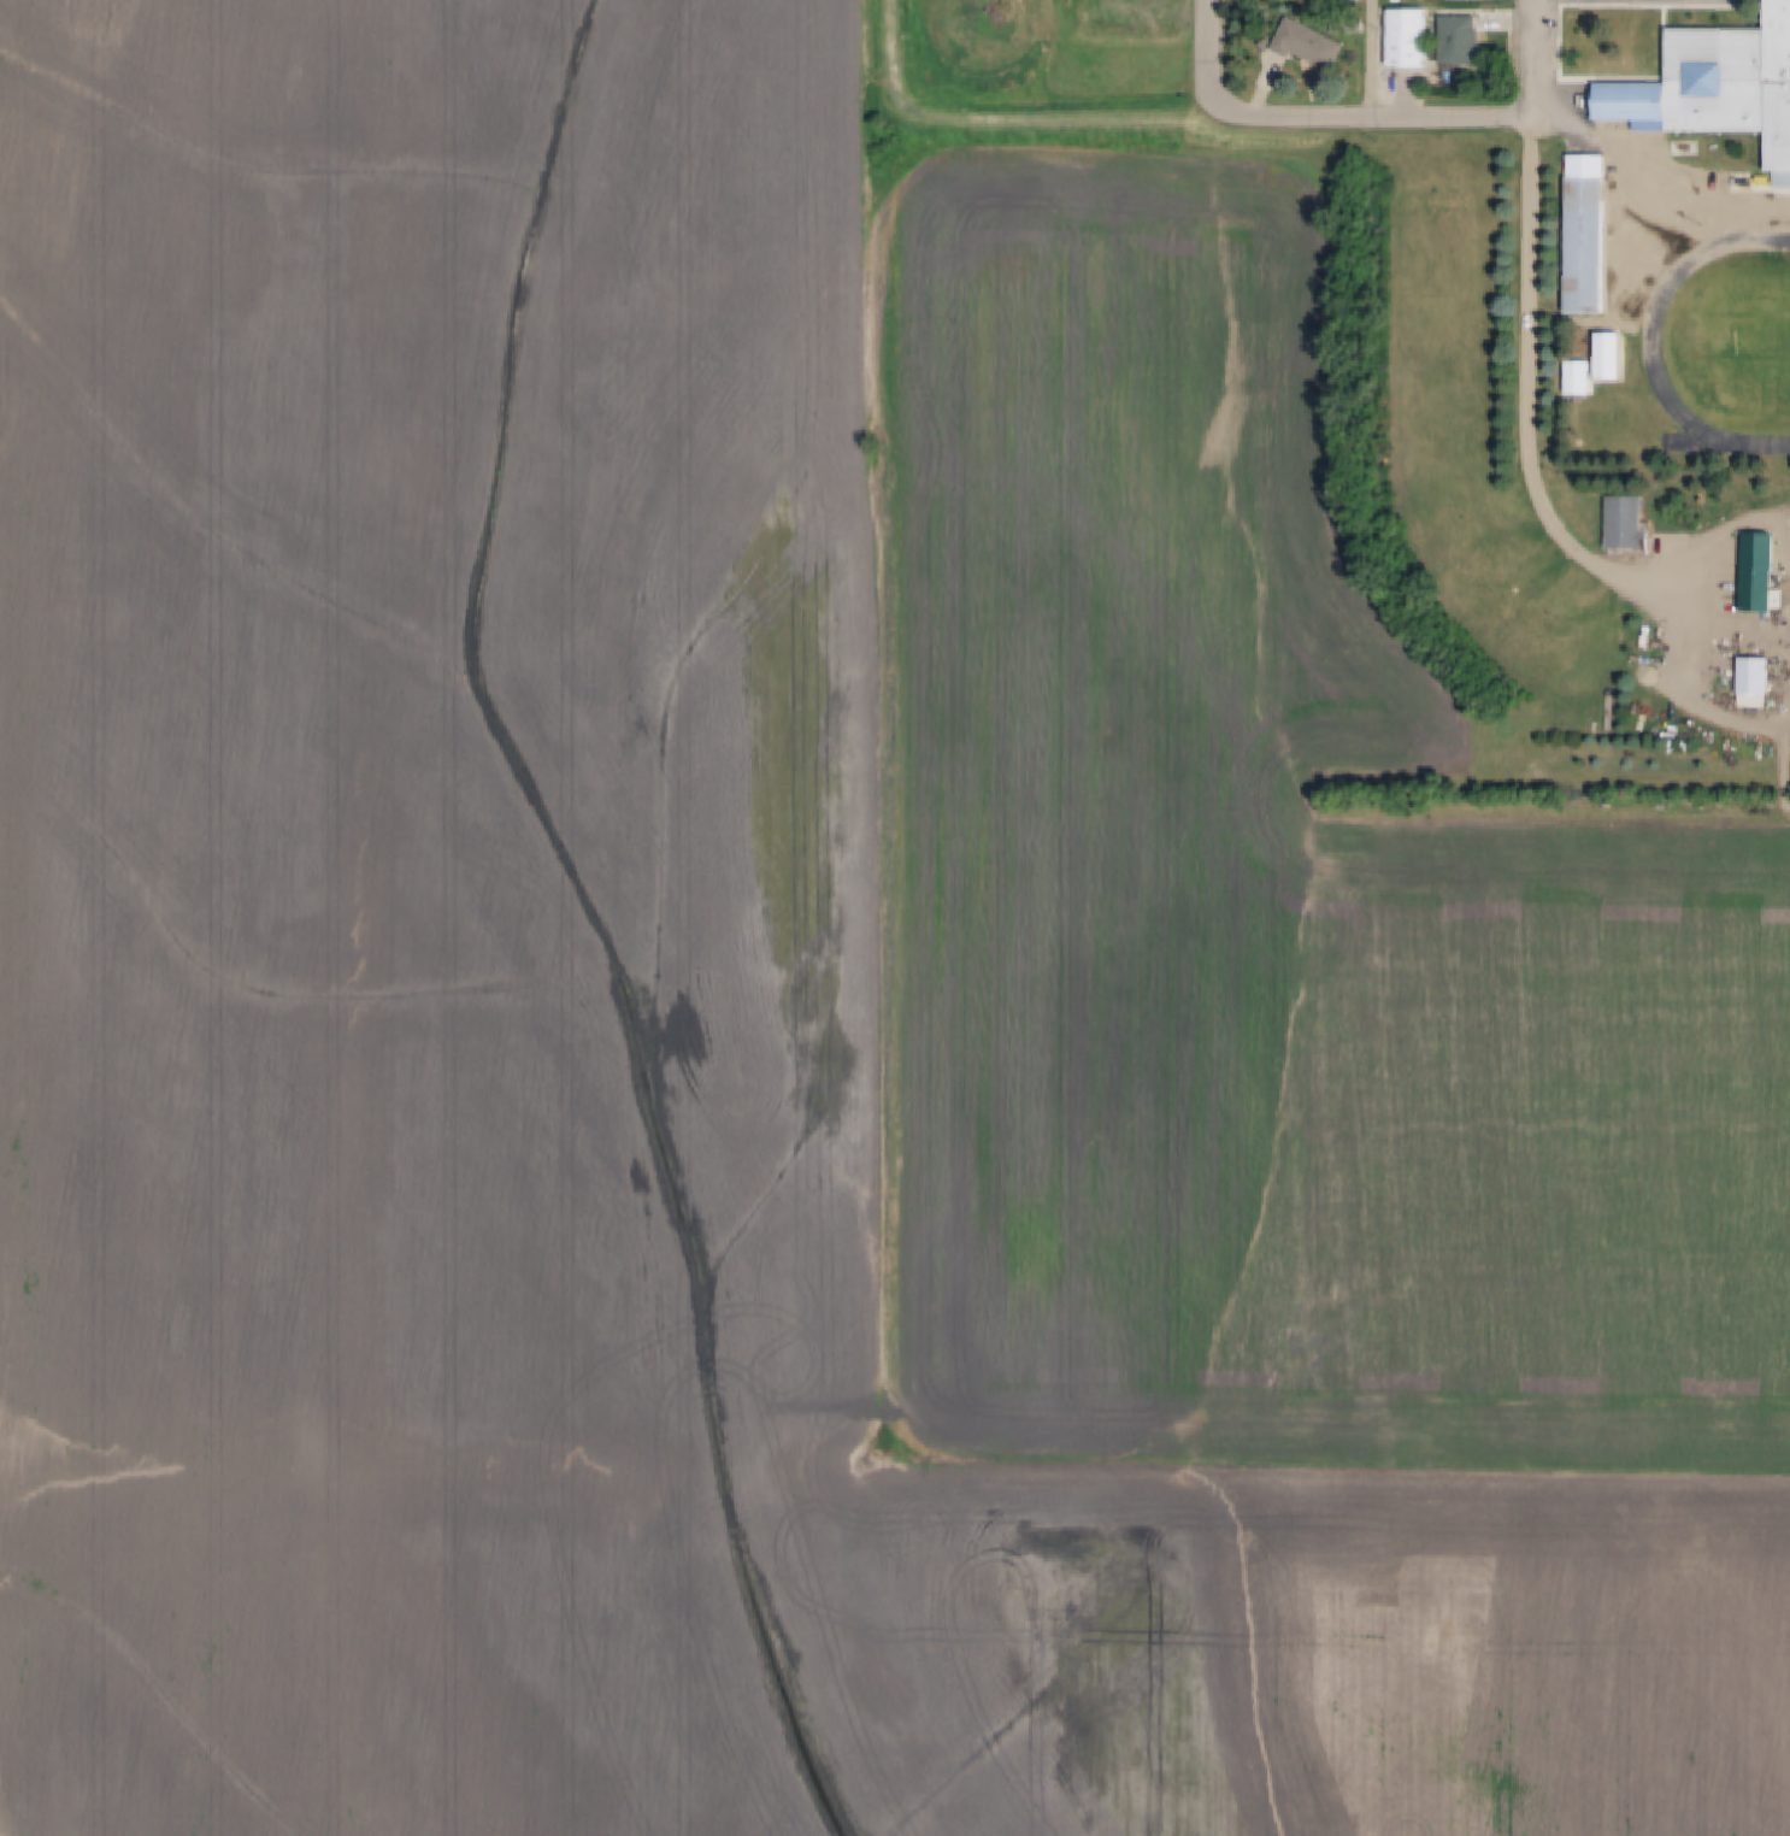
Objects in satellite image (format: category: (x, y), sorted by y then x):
building: (1459, 1)
building: (1413, 39)
building: (1468, 42)
building: (1317, 46)
road: (1212, 54)
road: (1376, 57)
road: (1535, 57)
building: (1720, 86)
road: (1377, 113)
building: (1641, 129)
building: (1692, 151)
road: (1653, 182)
building: (1590, 247)
park: (1766, 343)
building: (1603, 345)
track: (1733, 346)
road: (1533, 413)
track: (1697, 446)
building: (1632, 523)
building: (1762, 594)
building: (1762, 678)

